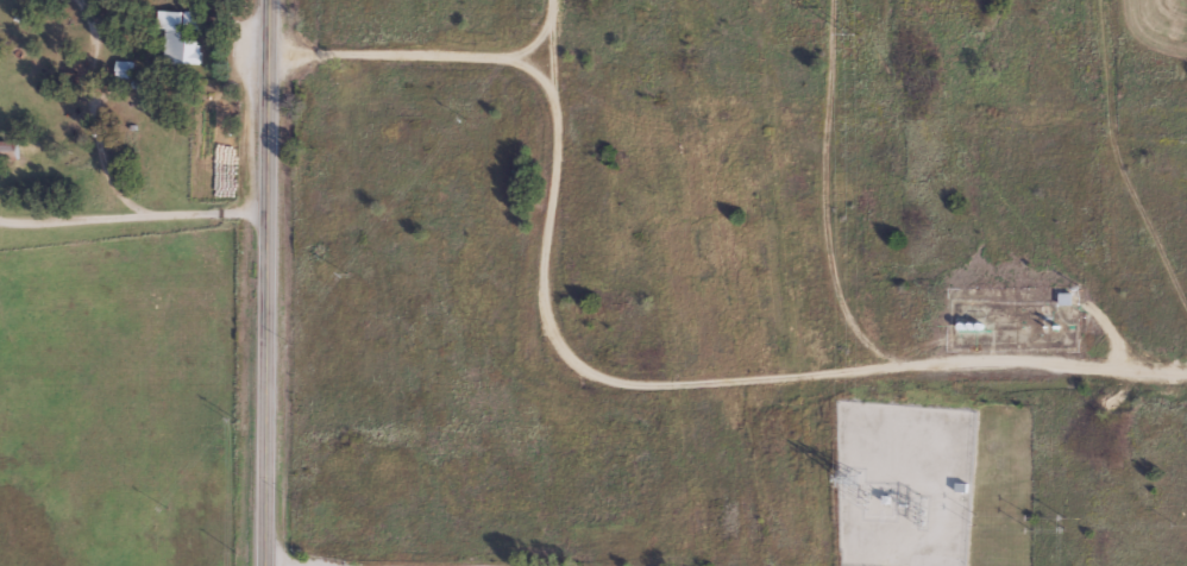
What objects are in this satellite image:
building: (175, 39)
road: (99, 111)
building: (7, 149)
road: (206, 215)
road: (70, 220)
road: (269, 282)
road: (591, 377)
power substation: (904, 483)
building: (960, 486)

